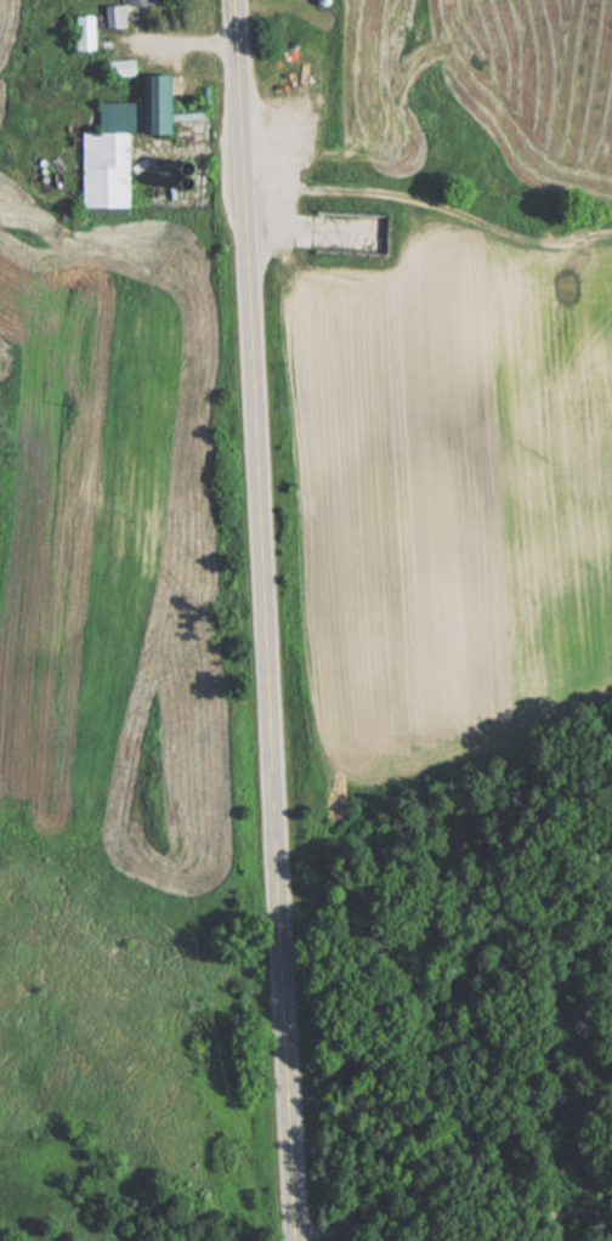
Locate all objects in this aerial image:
building: (118, 12)
building: (80, 32)
road: (185, 45)
building: (114, 67)
building: (103, 154)
road: (265, 619)
road: (453, 1208)

